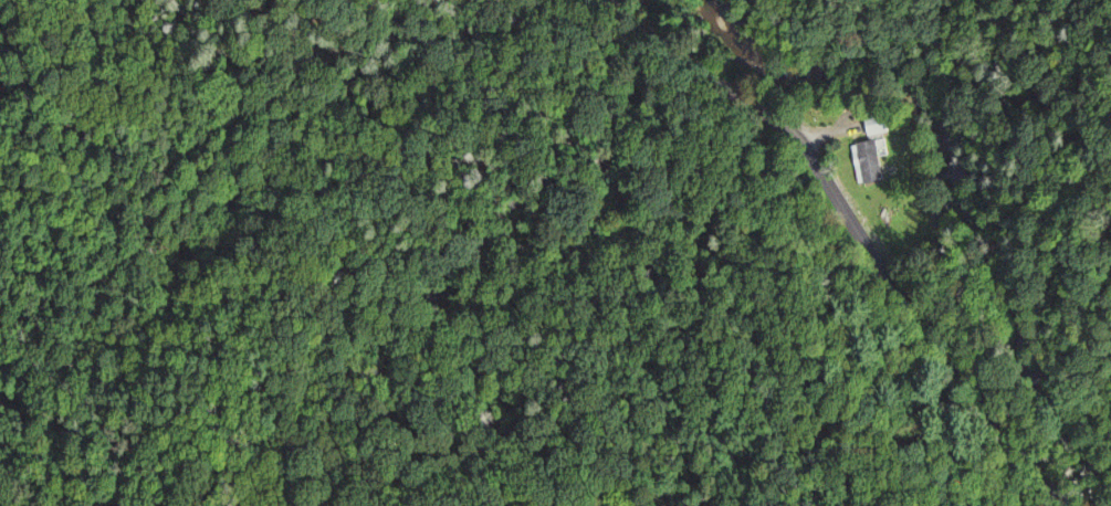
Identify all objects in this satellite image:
building: (874, 124)
building: (867, 161)
road: (853, 231)

